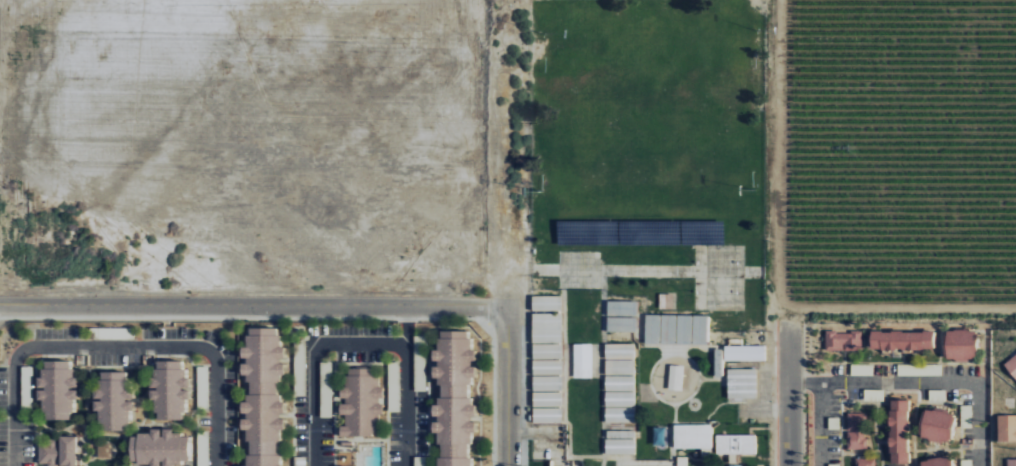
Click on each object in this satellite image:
road: (774, 233)
road: (253, 301)
building: (665, 301)
building: (546, 303)
building: (621, 308)
building: (621, 324)
building: (546, 327)
building: (660, 327)
building: (691, 328)
building: (843, 340)
building: (901, 340)
building: (958, 344)
road: (367, 347)
building: (546, 350)
road: (123, 351)
building: (619, 351)
building: (743, 353)
building: (419, 354)
building: (582, 360)
building: (1011, 365)
building: (546, 367)
building: (620, 367)
building: (675, 377)
building: (741, 384)
road: (507, 385)
road: (922, 388)
building: (56, 389)
building: (168, 389)
building: (261, 398)
building: (452, 398)
building: (547, 399)
building: (619, 399)
building: (112, 400)
building: (359, 402)
building: (935, 425)
road: (830, 427)
building: (1006, 427)
building: (856, 430)
building: (898, 431)
building: (693, 437)
building: (619, 442)
building: (734, 445)
building: (158, 448)
building: (103, 449)
building: (57, 452)
building: (863, 461)
building: (934, 462)
building: (1011, 462)
building: (898, 465)

